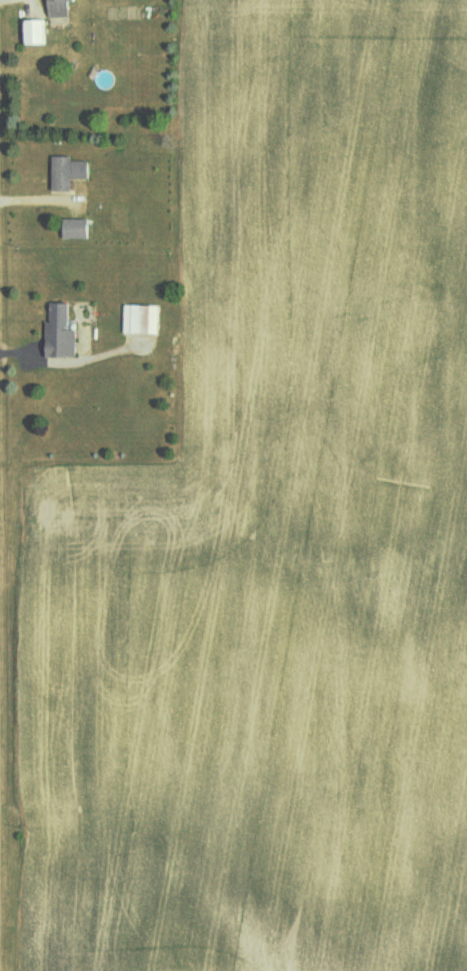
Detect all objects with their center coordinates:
building: (35, 33)
building: (68, 172)
building: (77, 228)
building: (142, 318)
building: (61, 331)
crop: (274, 535)

